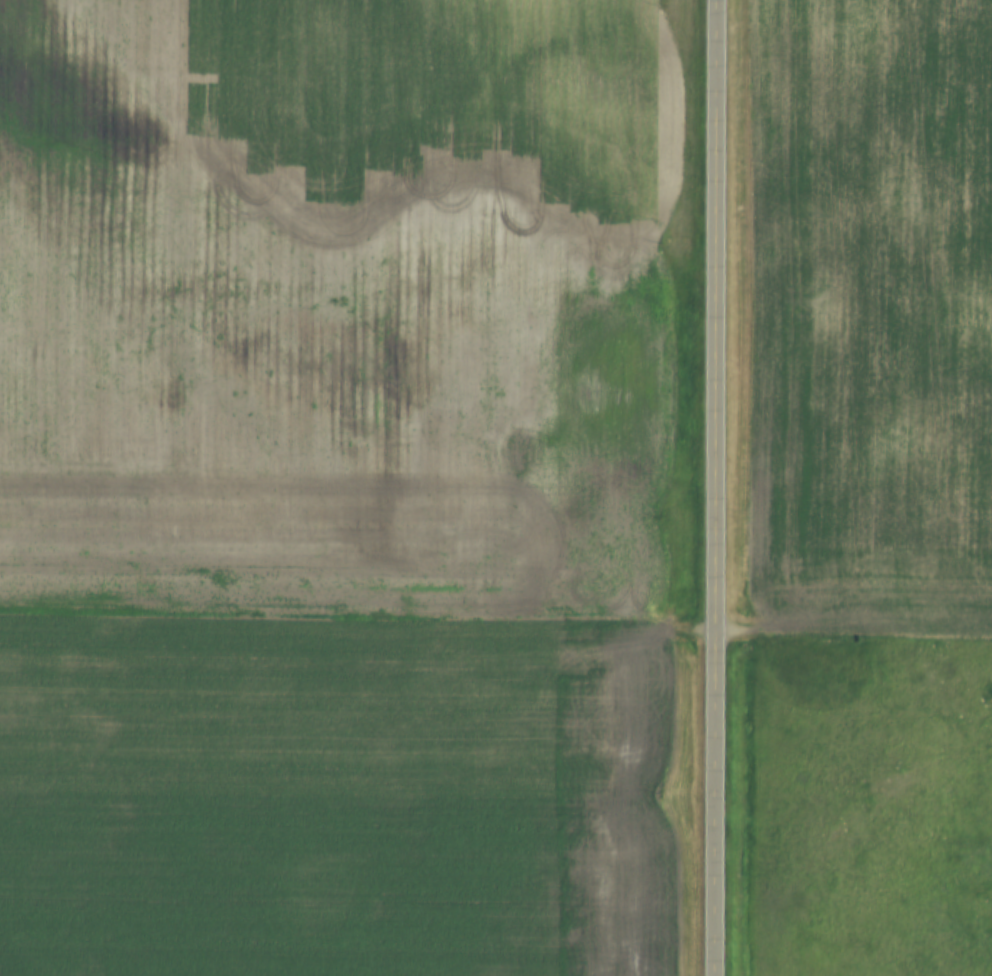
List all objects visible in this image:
road: (725, 488)

